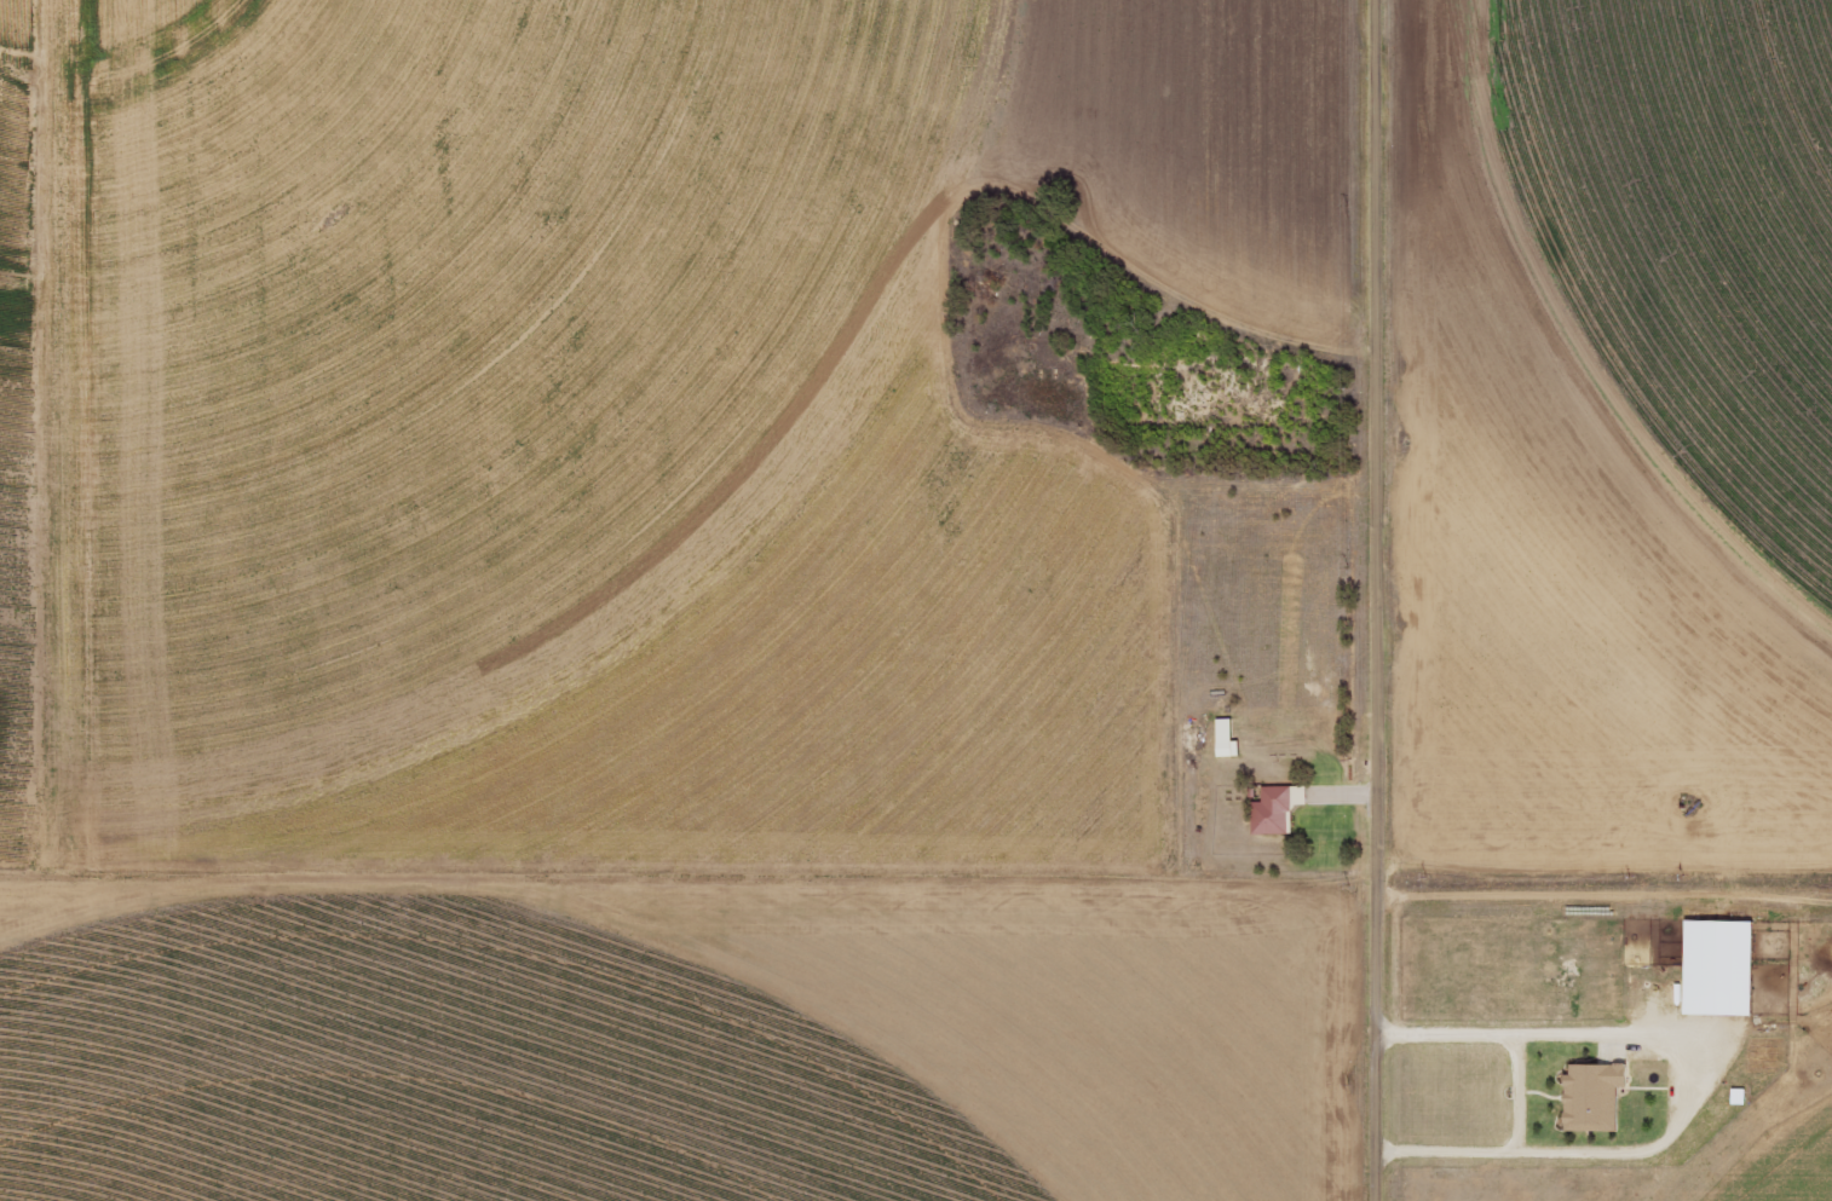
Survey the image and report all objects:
road: (1371, 600)
building: (1221, 739)
building: (1272, 809)
road: (918, 876)
building: (1713, 969)
road: (1520, 1095)
road: (1673, 1095)
building: (1589, 1097)

